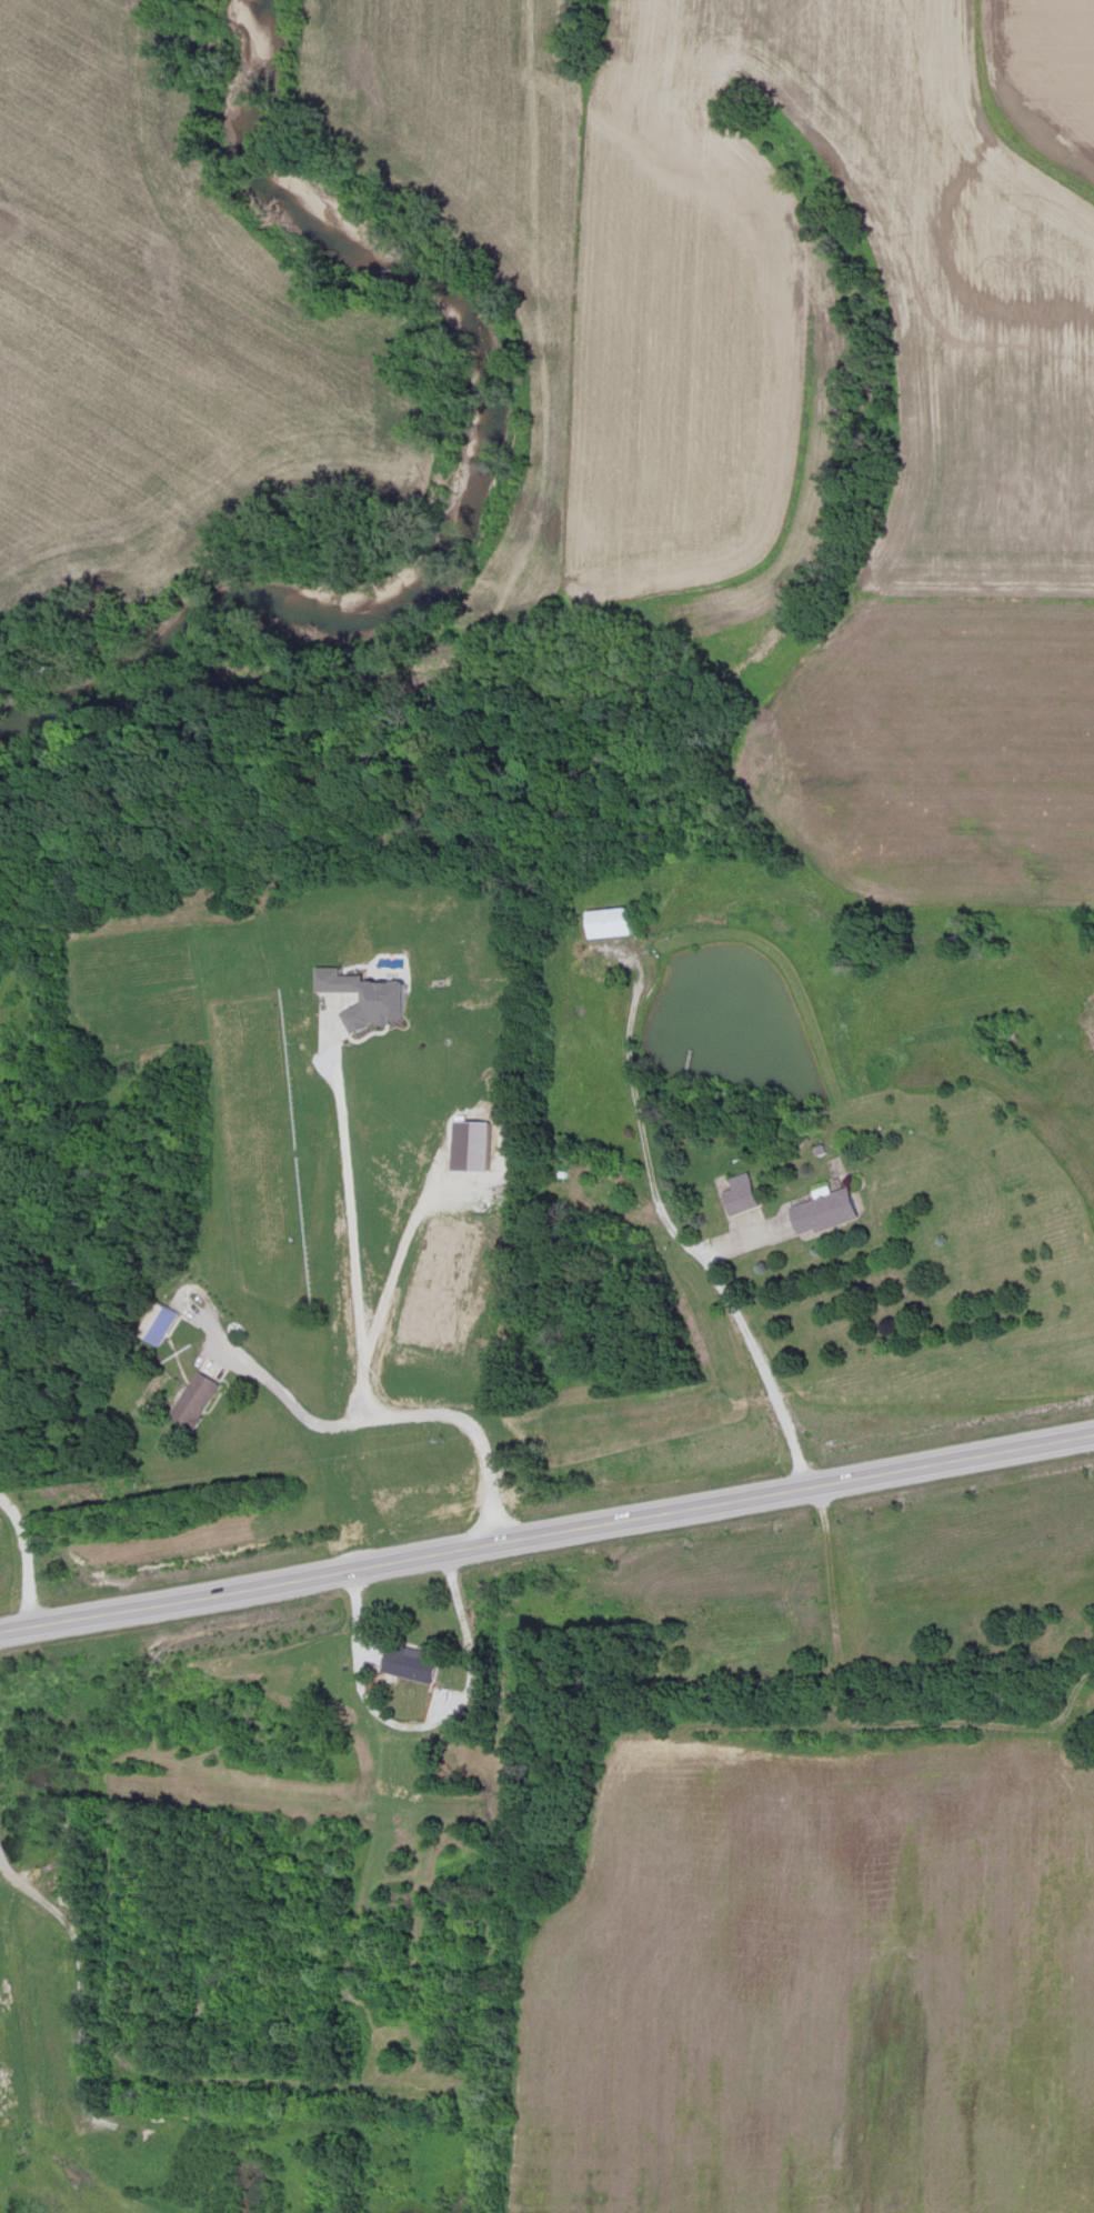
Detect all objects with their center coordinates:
river: (473, 473)
building: (609, 924)
road: (639, 1138)
road: (581, 1168)
road: (345, 1192)
building: (739, 1196)
building: (822, 1213)
road: (389, 1292)
building: (160, 1324)
road: (756, 1369)
building: (401, 1371)
building: (198, 1400)
road: (383, 1420)
road: (546, 1535)
road: (26, 1560)
building: (409, 1665)
building: (304, 1689)
road: (419, 1726)
road: (80, 1966)

